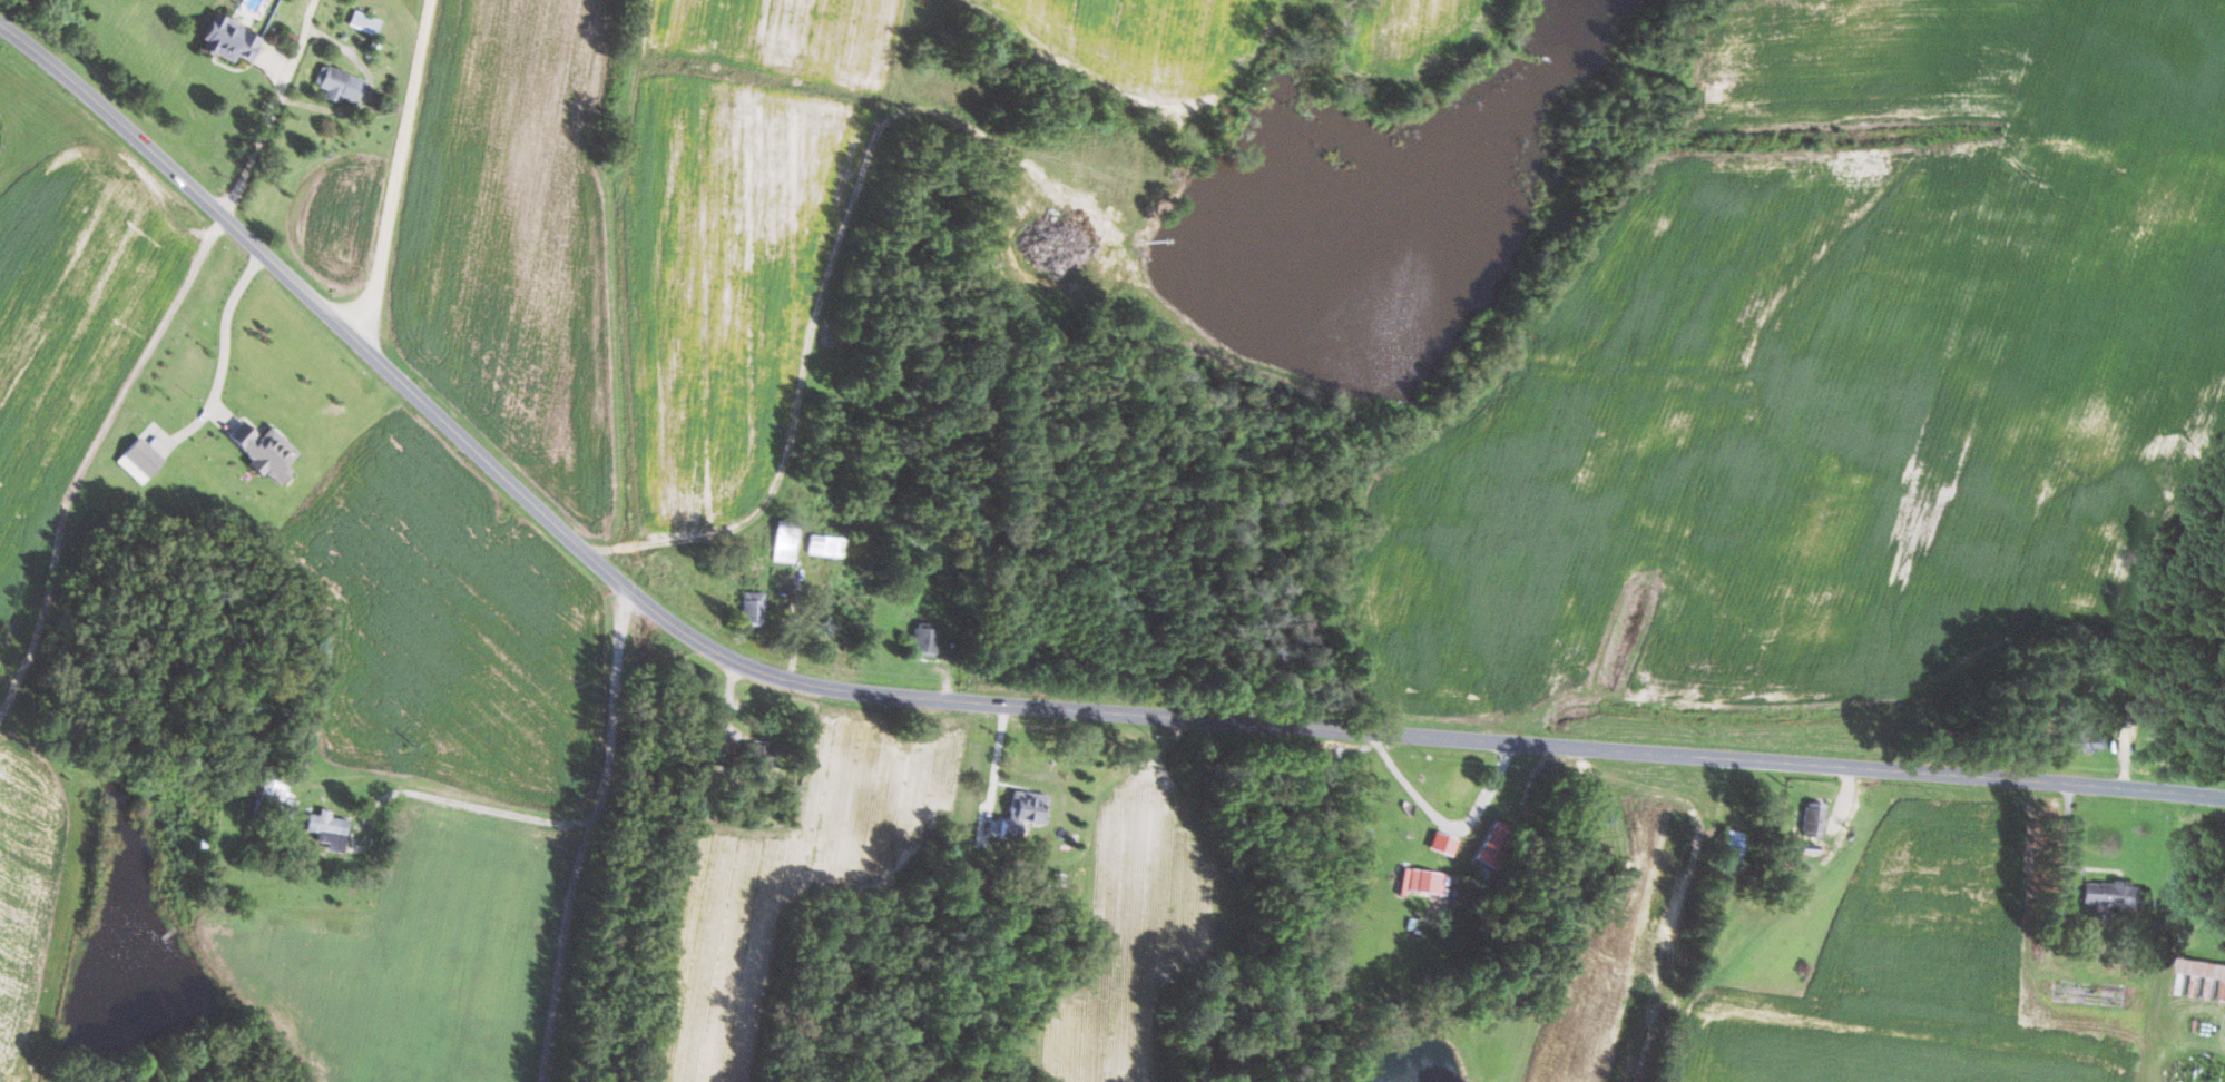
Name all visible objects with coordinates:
building: (229, 39)
building: (342, 85)
road: (274, 109)
road: (396, 170)
road: (226, 335)
building: (140, 460)
building: (786, 544)
building: (827, 545)
building: (754, 608)
building: (927, 639)
road: (991, 704)
building: (2097, 737)
building: (763, 754)
road: (996, 764)
building: (272, 793)
road: (471, 805)
building: (1023, 813)
building: (1814, 820)
road: (1442, 823)
building: (329, 829)
road: (588, 835)
building: (1497, 844)
building: (1733, 846)
building: (1423, 882)
building: (2114, 894)
building: (2206, 975)

